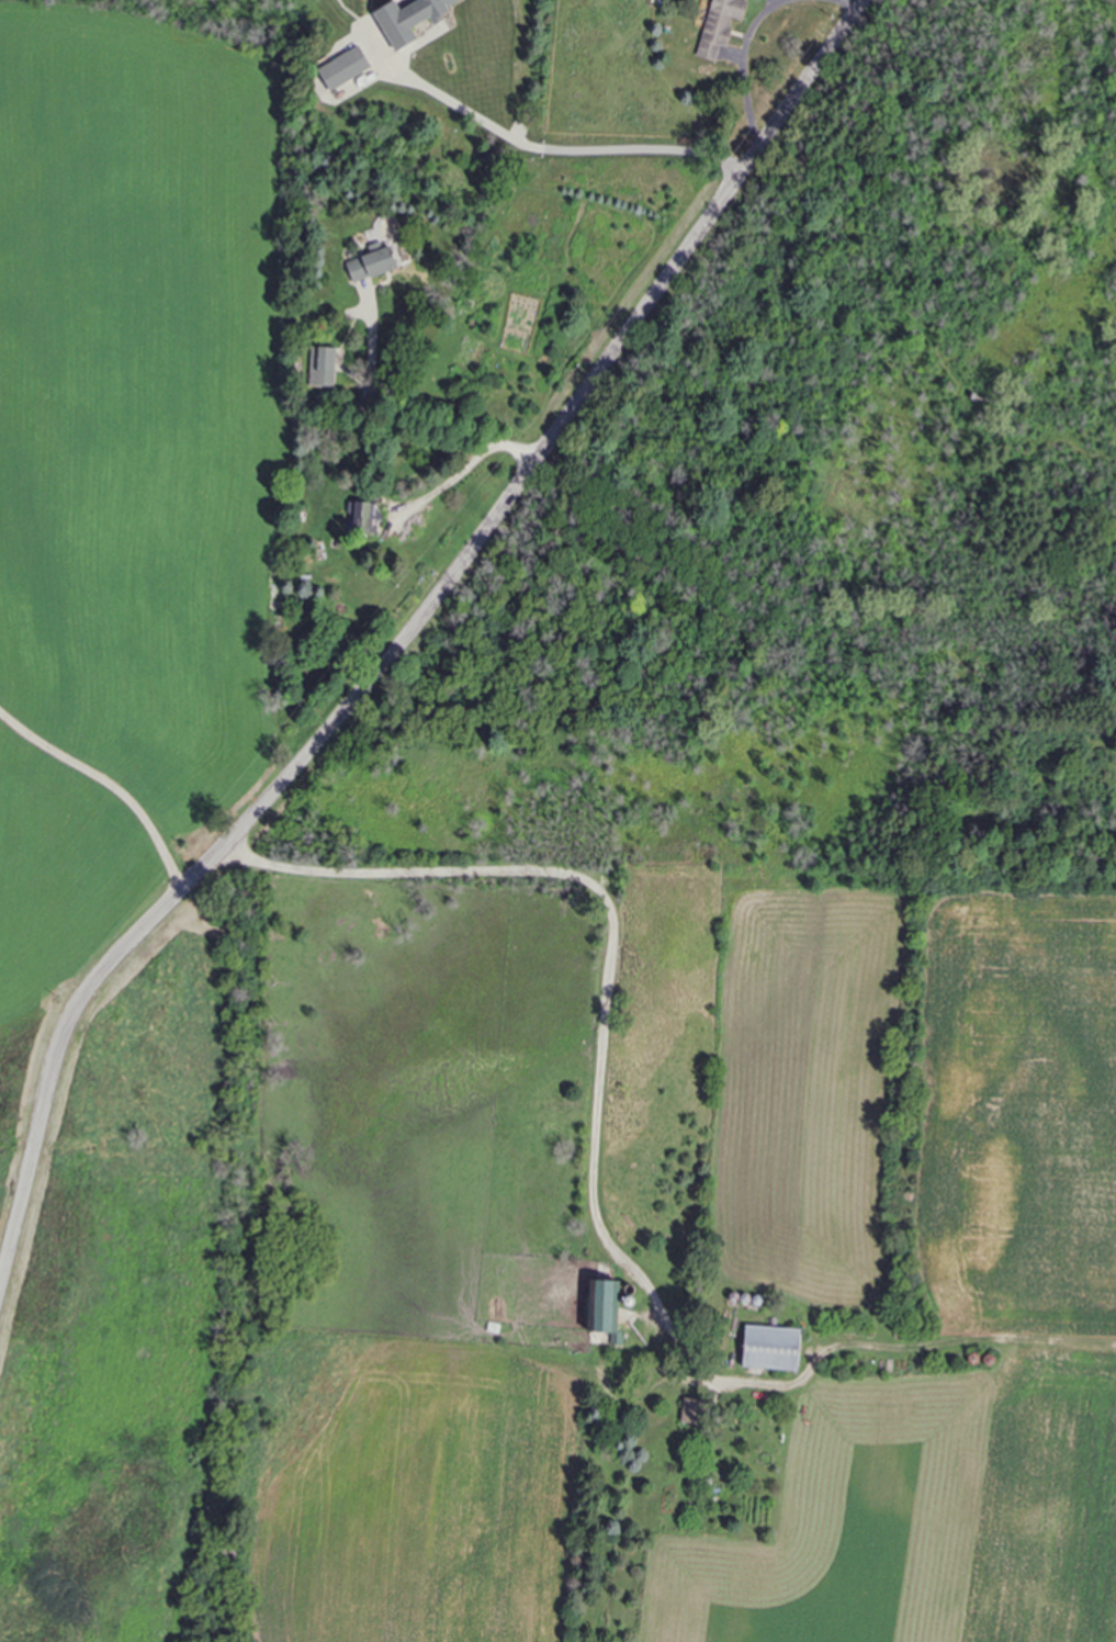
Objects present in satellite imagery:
road: (846, 3)
building: (408, 19)
building: (719, 25)
building: (343, 68)
road: (743, 69)
road: (561, 149)
building: (371, 265)
building: (323, 368)
road: (404, 409)
road: (450, 482)
building: (368, 517)
road: (408, 640)
road: (110, 784)
road: (601, 1050)
building: (600, 1306)
building: (770, 1348)
building: (690, 1410)

